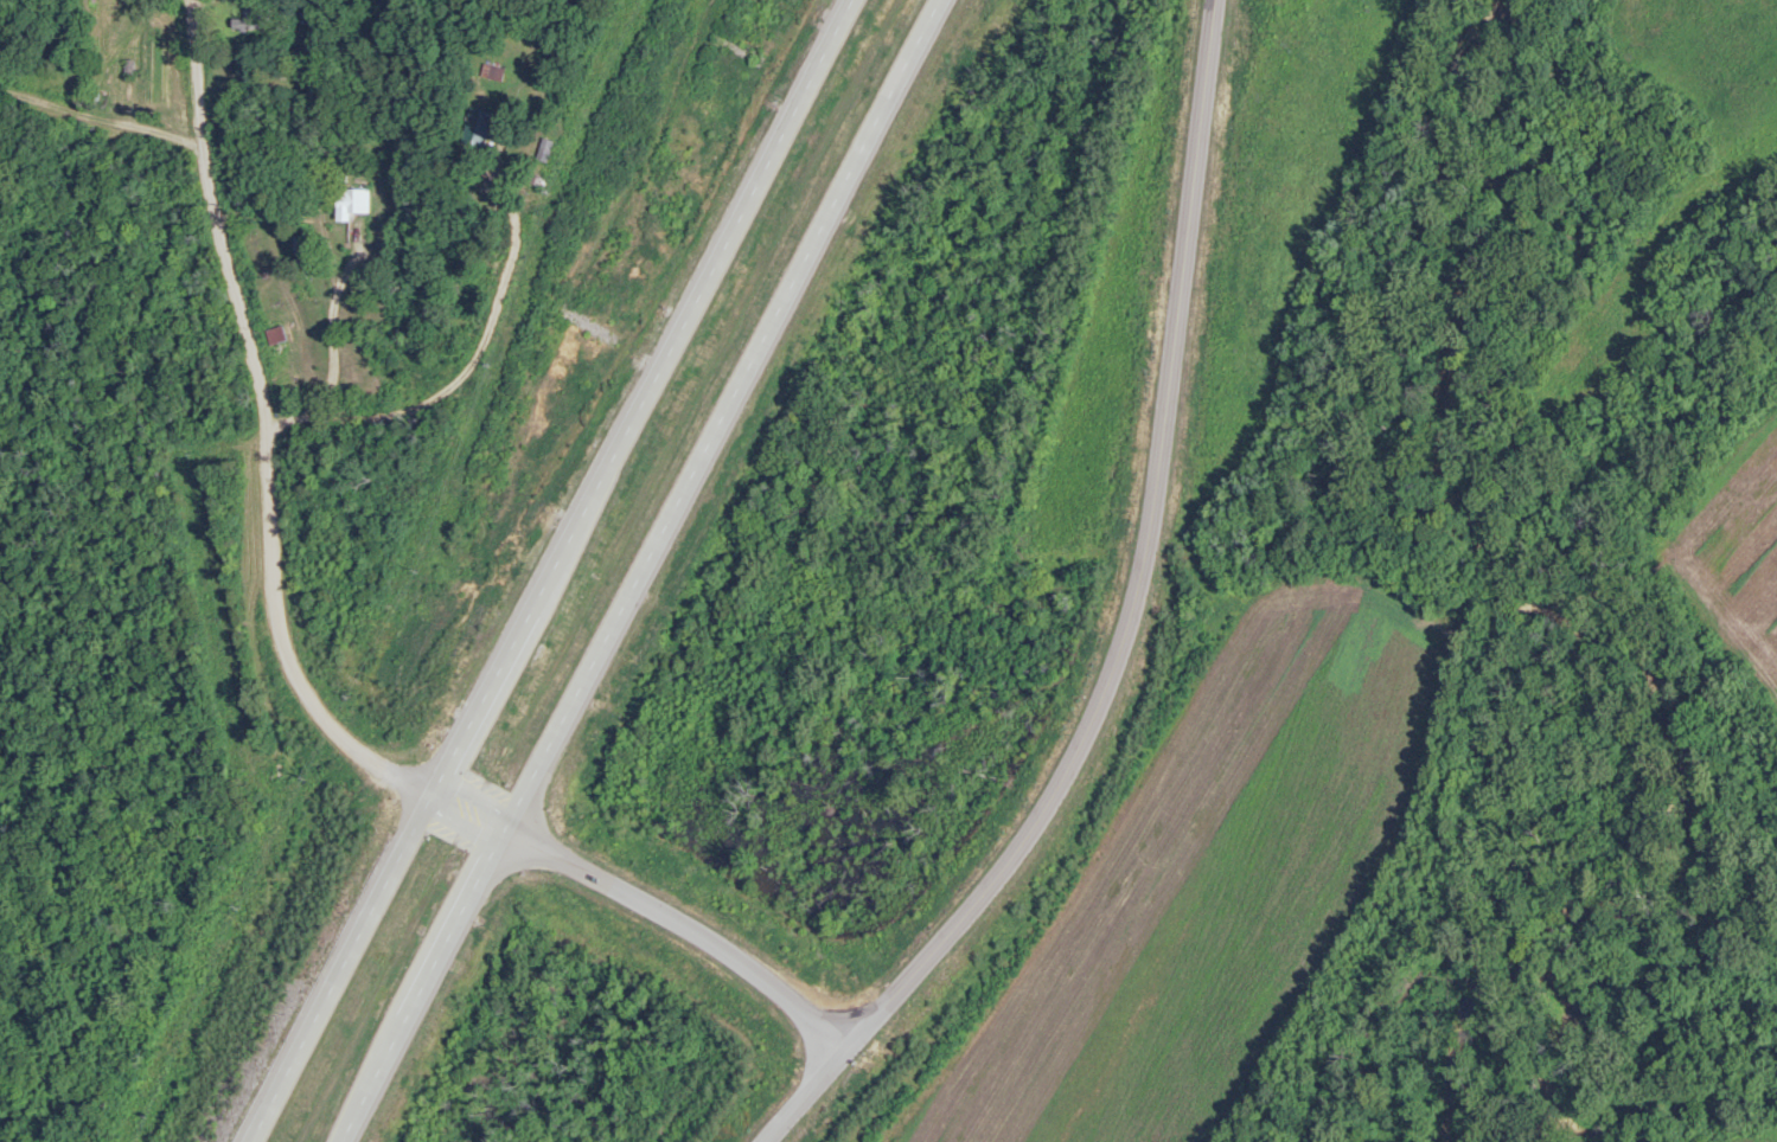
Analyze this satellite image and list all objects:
building: (253, 18)
building: (490, 73)
road: (101, 118)
building: (478, 123)
building: (542, 149)
building: (356, 203)
building: (289, 358)
road: (268, 430)
road: (1144, 564)
road: (639, 570)
road: (552, 572)
road: (652, 906)
road: (455, 990)
road: (807, 1090)

